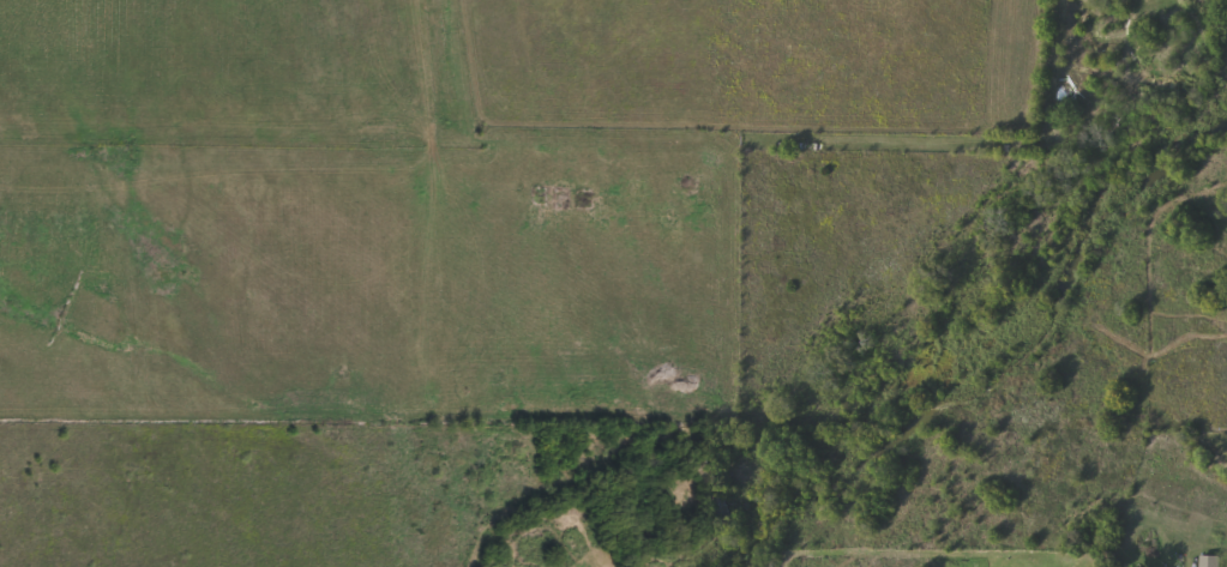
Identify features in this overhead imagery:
building: (1209, 559)

